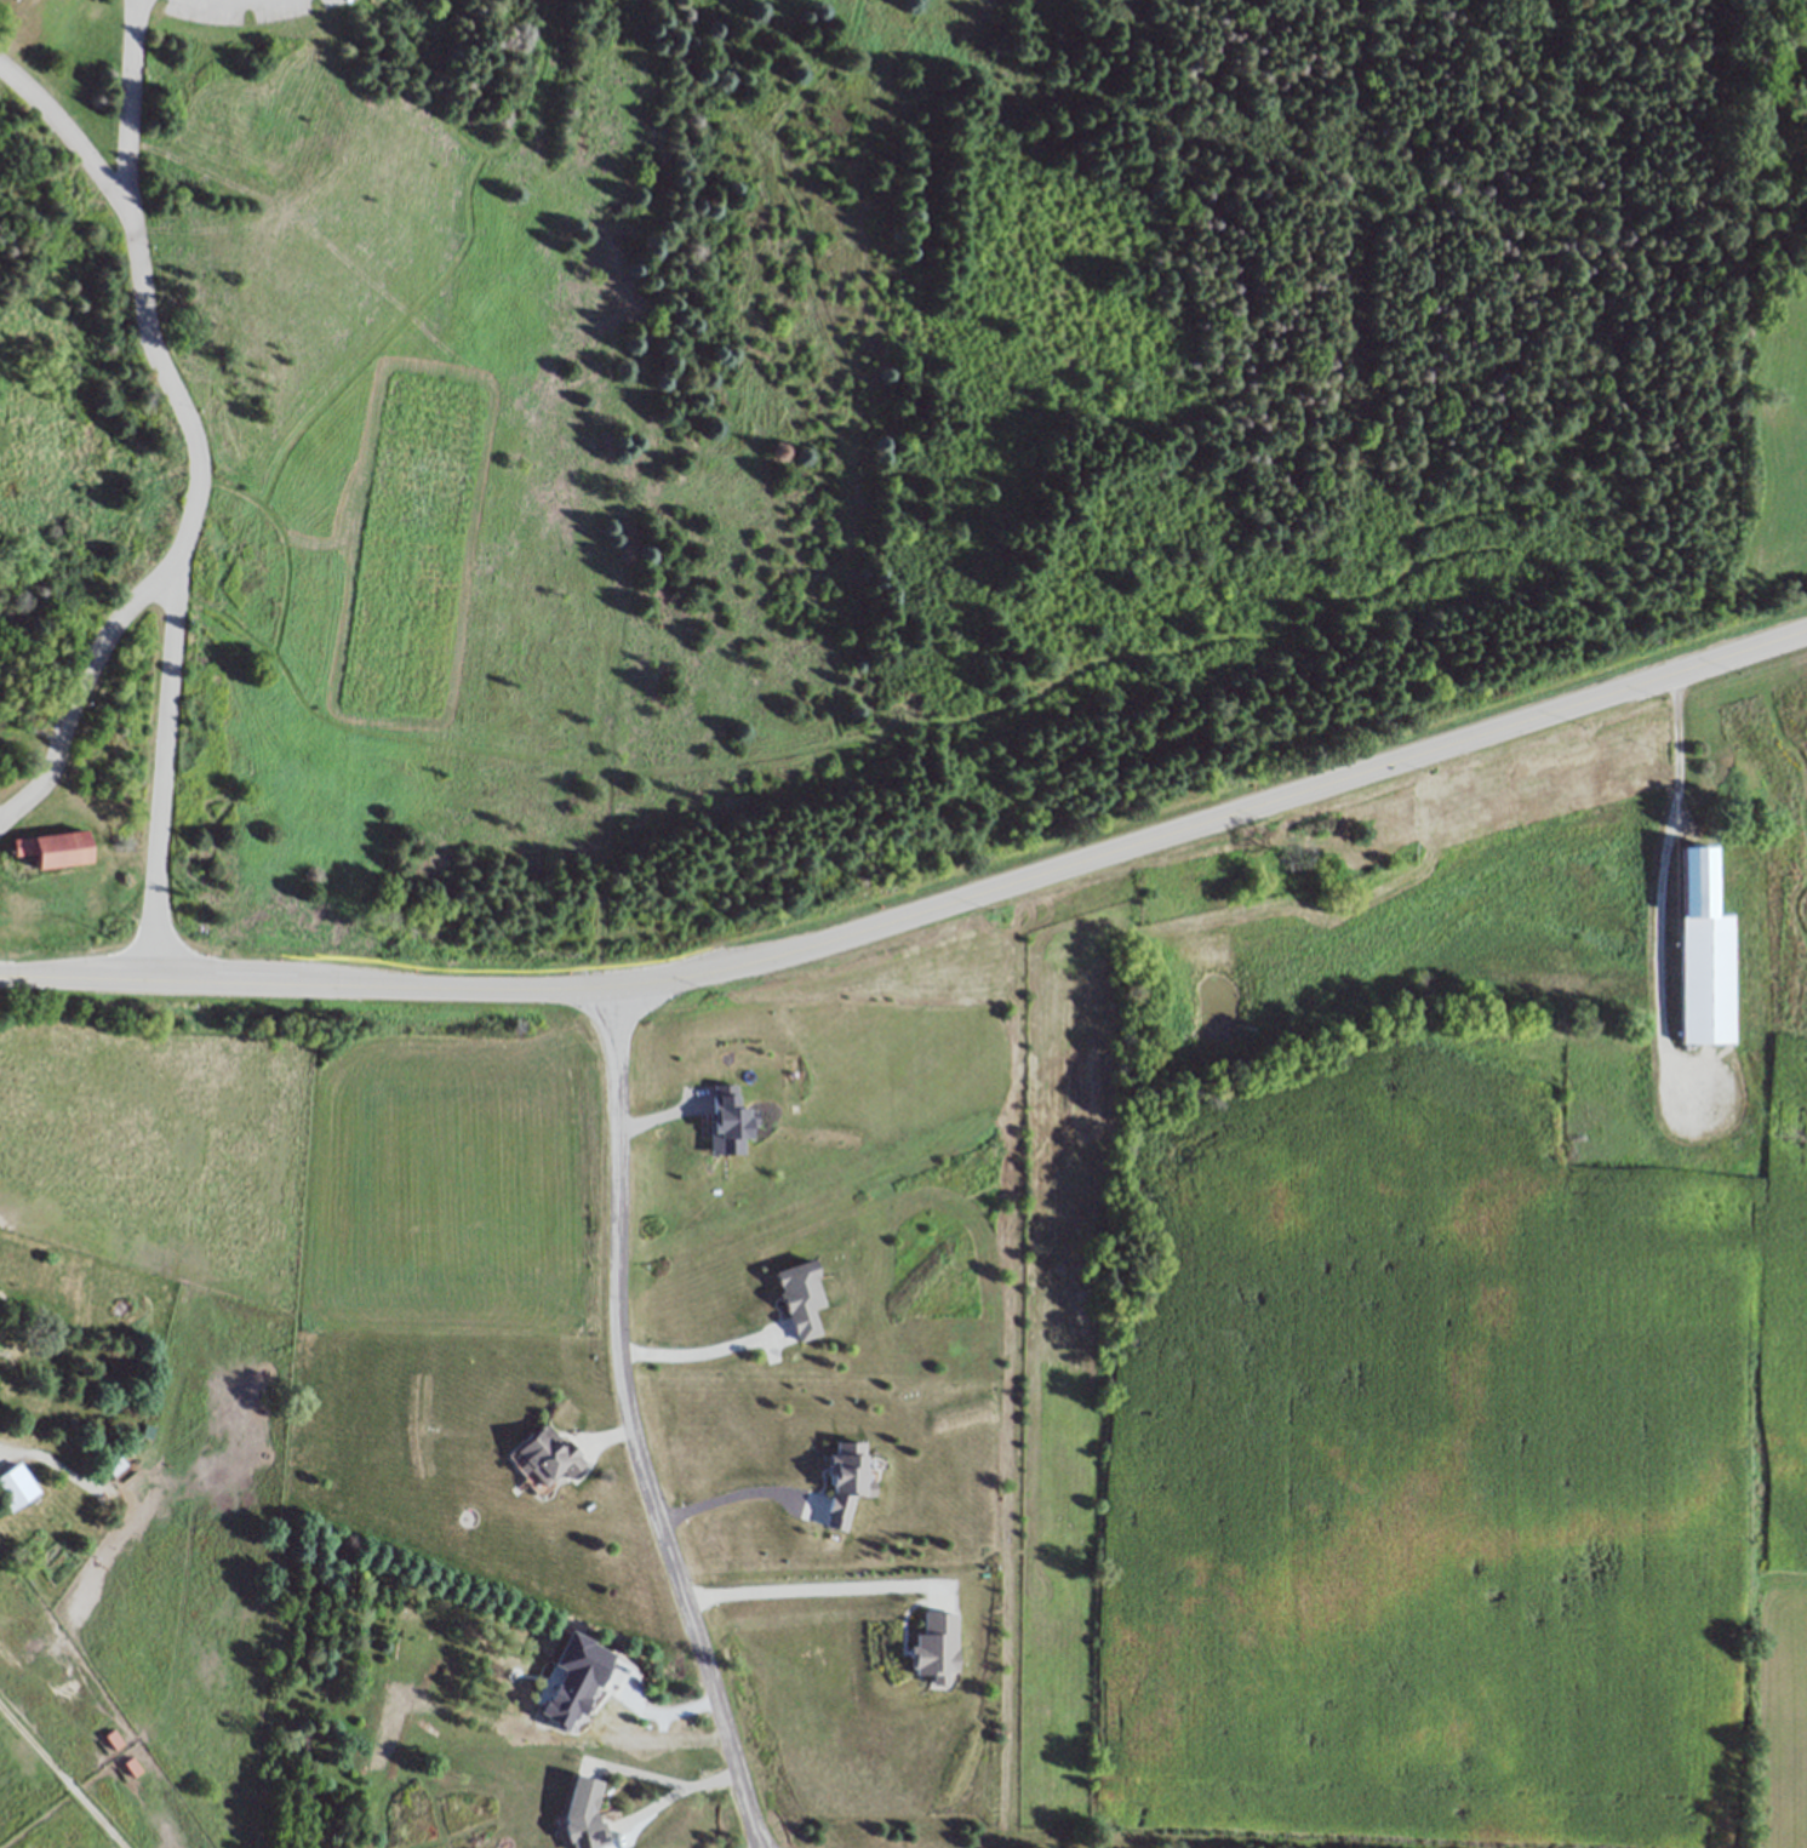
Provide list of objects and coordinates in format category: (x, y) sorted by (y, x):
parking lot: (245, 10)
road: (62, 133)
road: (195, 434)
building: (0, 688)
building: (1806, 711)
road: (1689, 756)
building: (1628, 766)
road: (161, 774)
park: (1772, 840)
building: (53, 848)
building: (1765, 909)
building: (1275, 920)
road: (919, 927)
building: (1703, 950)
building: (801, 1303)
road: (697, 1351)
road: (631, 1435)
building: (548, 1454)
building: (15, 1491)
road: (727, 1495)
road: (805, 1587)
road: (671, 1796)
building: (584, 1814)

